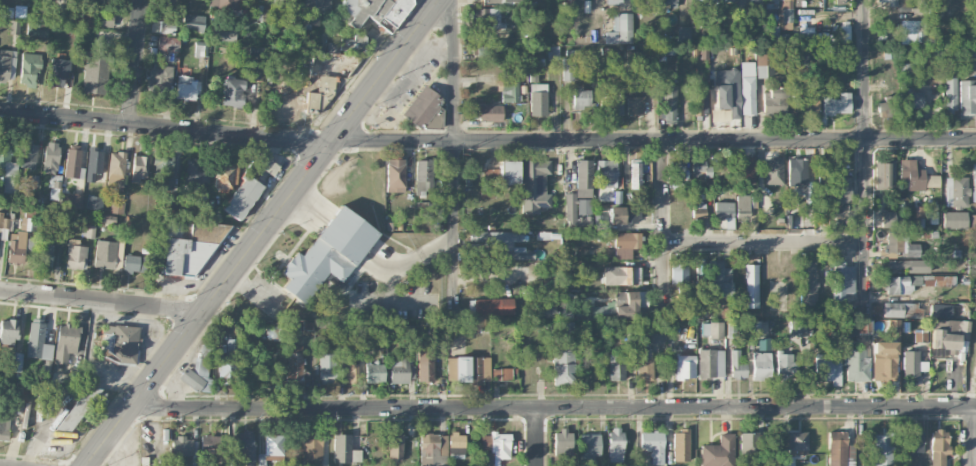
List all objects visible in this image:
building: (799, 0)
building: (80, 1)
building: (727, 1)
building: (841, 1)
building: (495, 2)
building: (755, 2)
building: (890, 2)
building: (225, 3)
building: (281, 3)
building: (670, 3)
building: (902, 4)
building: (568, 5)
building: (974, 7)
building: (781, 9)
building: (314, 10)
building: (374, 12)
building: (487, 18)
building: (104, 19)
building: (193, 22)
building: (166, 27)
building: (37, 29)
building: (620, 29)
building: (744, 30)
building: (911, 32)
building: (223, 34)
building: (683, 34)
building: (839, 35)
building: (168, 43)
building: (485, 51)
building: (968, 53)
building: (765, 61)
road: (135, 62)
building: (6, 65)
building: (255, 67)
building: (29, 69)
building: (569, 69)
building: (329, 70)
building: (906, 70)
building: (59, 71)
building: (94, 75)
building: (159, 82)
building: (186, 87)
building: (747, 88)
building: (233, 91)
building: (509, 91)
building: (727, 91)
building: (950, 94)
building: (967, 96)
building: (581, 97)
building: (538, 99)
building: (774, 100)
building: (909, 100)
building: (808, 103)
building: (837, 104)
building: (635, 105)
building: (669, 105)
building: (421, 106)
building: (698, 106)
building: (611, 107)
building: (886, 107)
building: (490, 113)
building: (719, 115)
road: (164, 128)
road: (655, 141)
road: (866, 150)
building: (29, 154)
building: (50, 157)
road: (455, 158)
building: (72, 161)
building: (94, 164)
building: (7, 165)
building: (269, 166)
building: (139, 167)
building: (676, 168)
building: (746, 168)
building: (115, 170)
building: (773, 171)
building: (797, 171)
building: (508, 172)
building: (196, 173)
building: (605, 173)
building: (164, 174)
building: (635, 174)
building: (394, 175)
building: (225, 176)
building: (884, 176)
building: (916, 176)
building: (423, 177)
building: (974, 182)
building: (487, 184)
building: (534, 185)
building: (54, 190)
building: (841, 191)
building: (956, 192)
building: (242, 197)
building: (580, 197)
building: (71, 200)
building: (170, 200)
building: (94, 203)
building: (742, 206)
building: (116, 207)
building: (698, 212)
building: (724, 213)
building: (624, 215)
building: (918, 217)
building: (888, 219)
building: (950, 219)
building: (4, 221)
building: (973, 221)
building: (25, 224)
road: (663, 230)
building: (89, 231)
road: (263, 233)
building: (494, 237)
building: (625, 244)
road: (765, 244)
building: (898, 245)
building: (16, 247)
building: (190, 251)
building: (45, 254)
building: (105, 254)
building: (328, 254)
building: (76, 255)
building: (135, 263)
building: (907, 265)
building: (678, 274)
building: (621, 275)
building: (808, 282)
building: (843, 283)
building: (915, 283)
building: (751, 286)
building: (779, 292)
road: (102, 301)
building: (631, 304)
building: (493, 307)
building: (901, 310)
building: (546, 311)
building: (602, 311)
building: (712, 329)
building: (8, 331)
building: (408, 331)
building: (273, 334)
building: (951, 336)
building: (657, 337)
building: (37, 341)
building: (65, 342)
building: (120, 343)
building: (563, 353)
building: (833, 358)
building: (885, 362)
building: (710, 363)
building: (228, 364)
building: (857, 364)
building: (425, 365)
building: (644, 365)
building: (737, 365)
building: (761, 365)
building: (910, 365)
building: (294, 366)
building: (450, 366)
building: (685, 366)
building: (616, 367)
building: (785, 367)
building: (327, 368)
building: (472, 369)
building: (399, 370)
building: (347, 371)
building: (262, 372)
building: (374, 373)
building: (504, 373)
building: (196, 375)
road: (973, 391)
road: (555, 404)
building: (4, 428)
road: (537, 435)
road: (973, 435)
building: (794, 442)
building: (563, 443)
building: (914, 443)
building: (212, 444)
building: (274, 445)
building: (457, 445)
building: (615, 445)
building: (680, 445)
building: (244, 446)
building: (395, 446)
building: (589, 446)
building: (653, 446)
building: (184, 447)
building: (938, 447)
building: (311, 448)
building: (494, 448)
building: (344, 449)
building: (750, 449)
building: (433, 450)
building: (839, 450)
building: (882, 450)
building: (718, 452)

